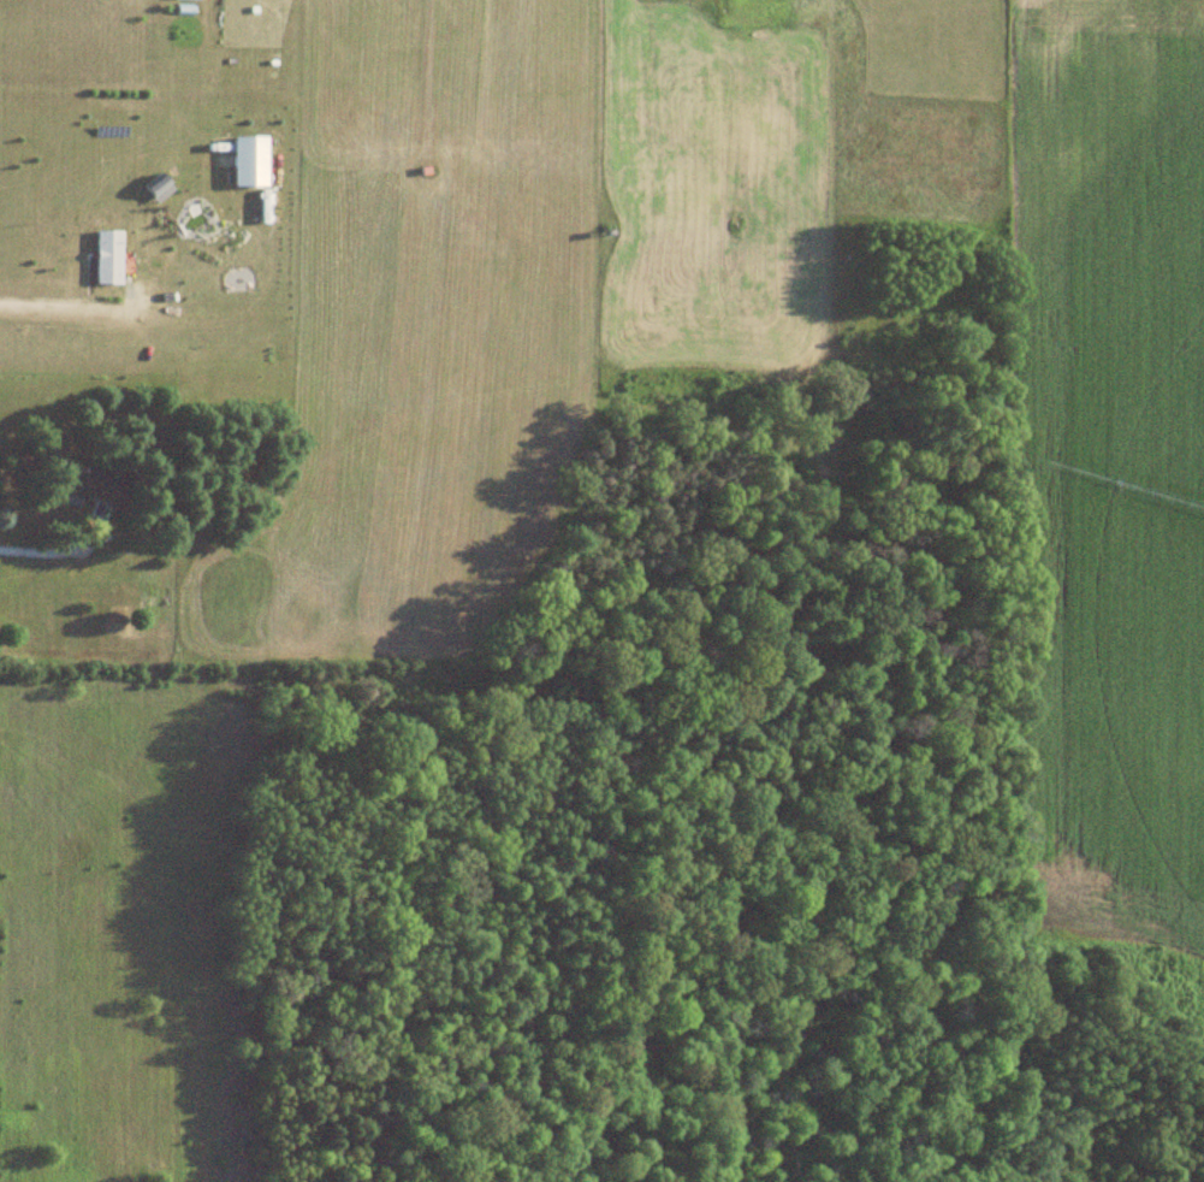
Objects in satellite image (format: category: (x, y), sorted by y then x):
building: (443, 184)
building: (106, 258)
road: (42, 305)
building: (140, 435)
building: (99, 487)
road: (52, 556)

